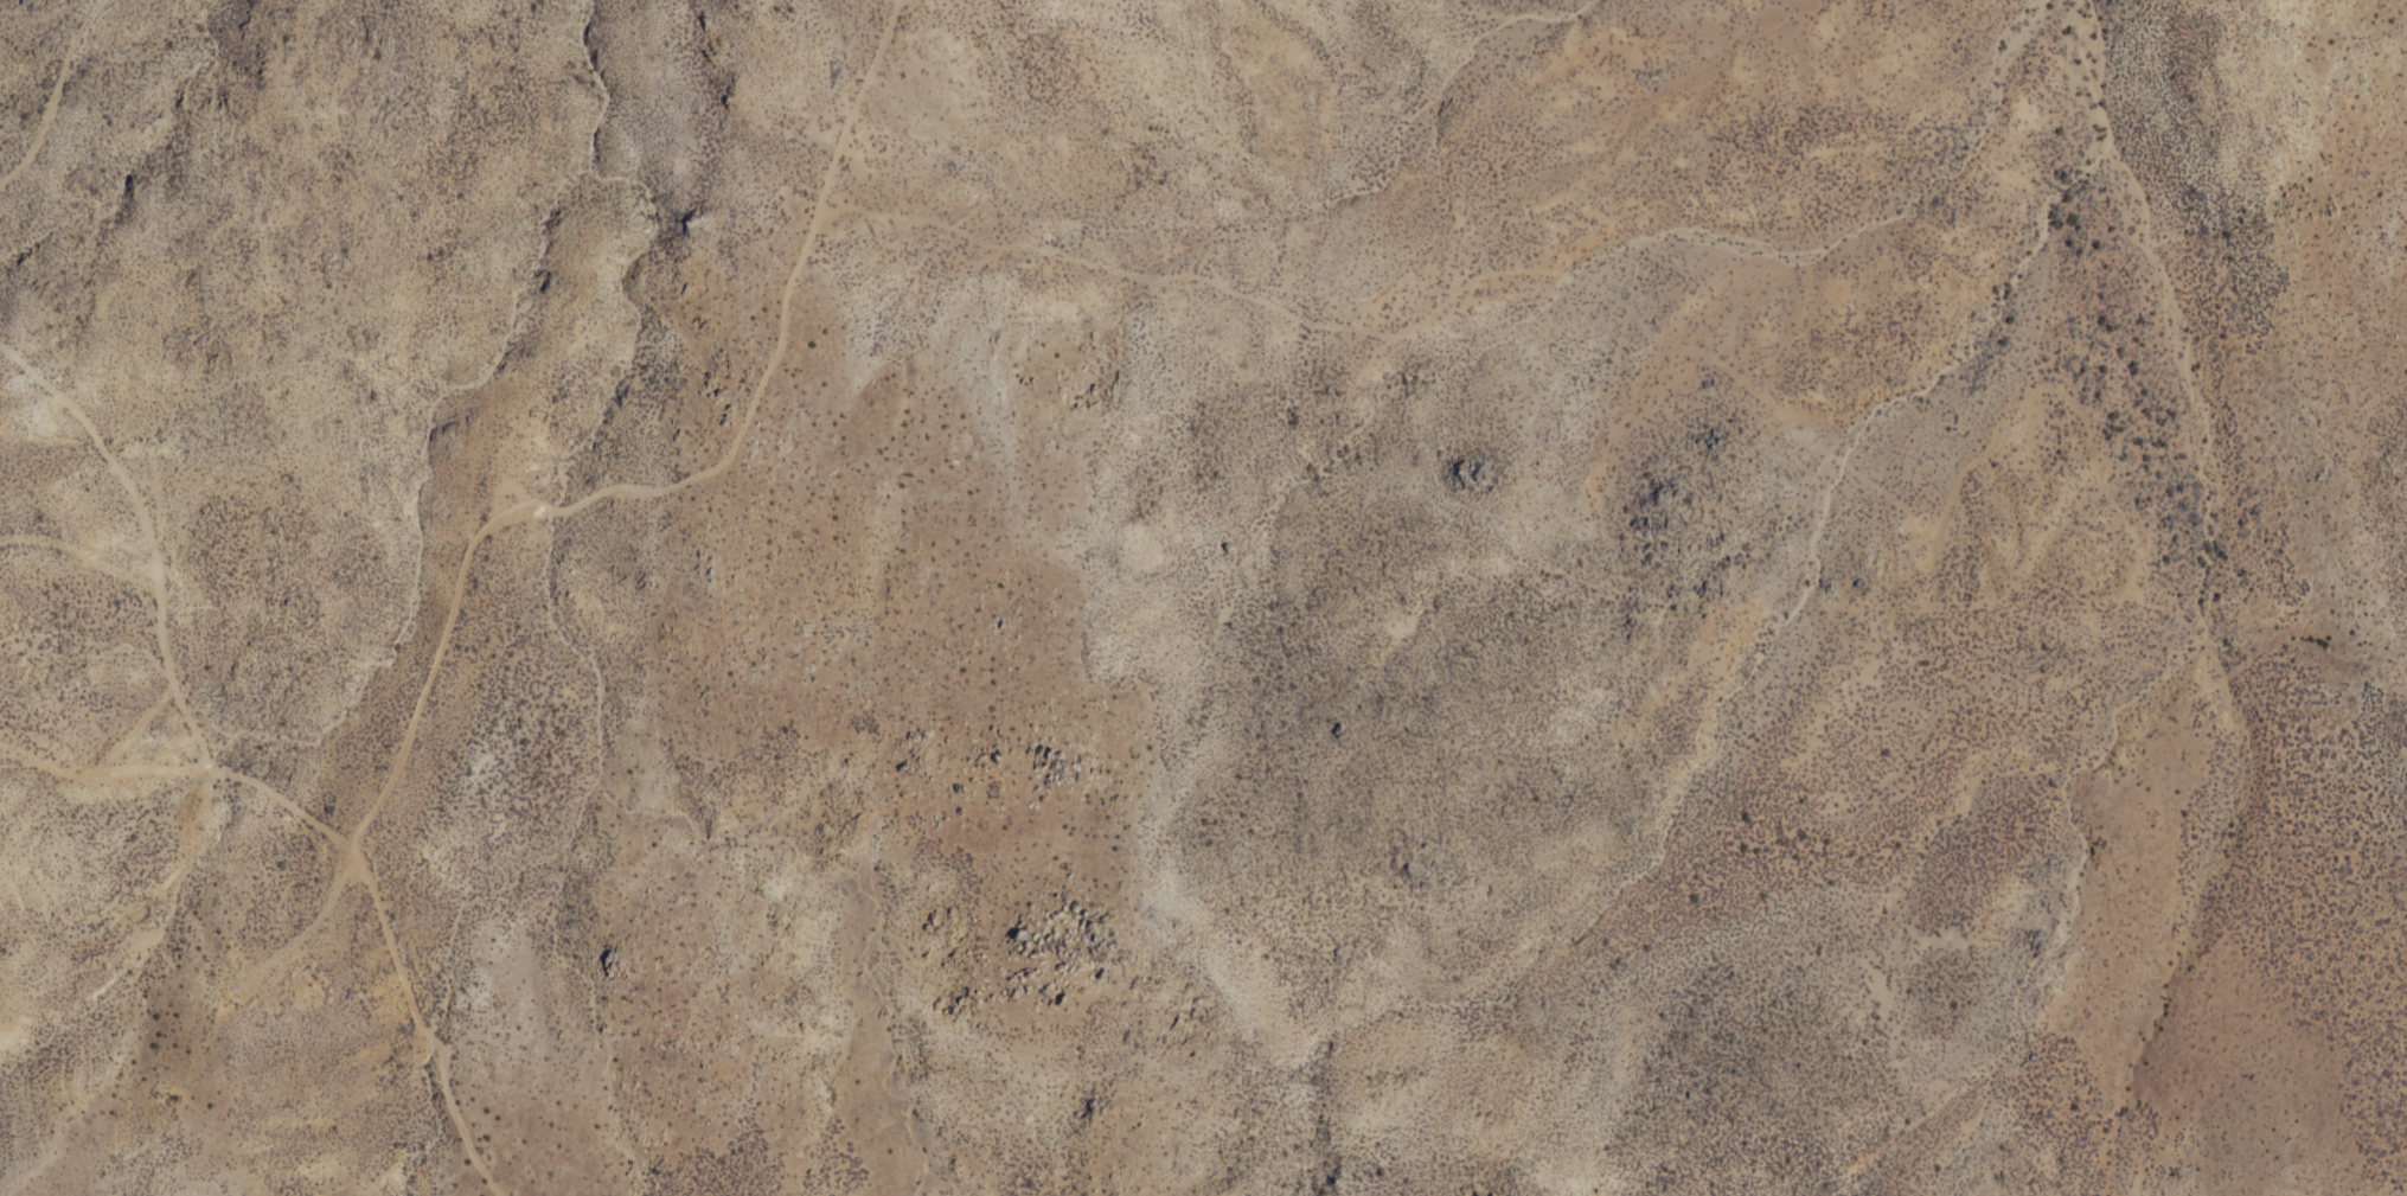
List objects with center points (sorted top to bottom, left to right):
road: (56, 98)
road: (1429, 316)
road: (677, 482)
road: (146, 536)
road: (185, 772)
road: (423, 1024)

